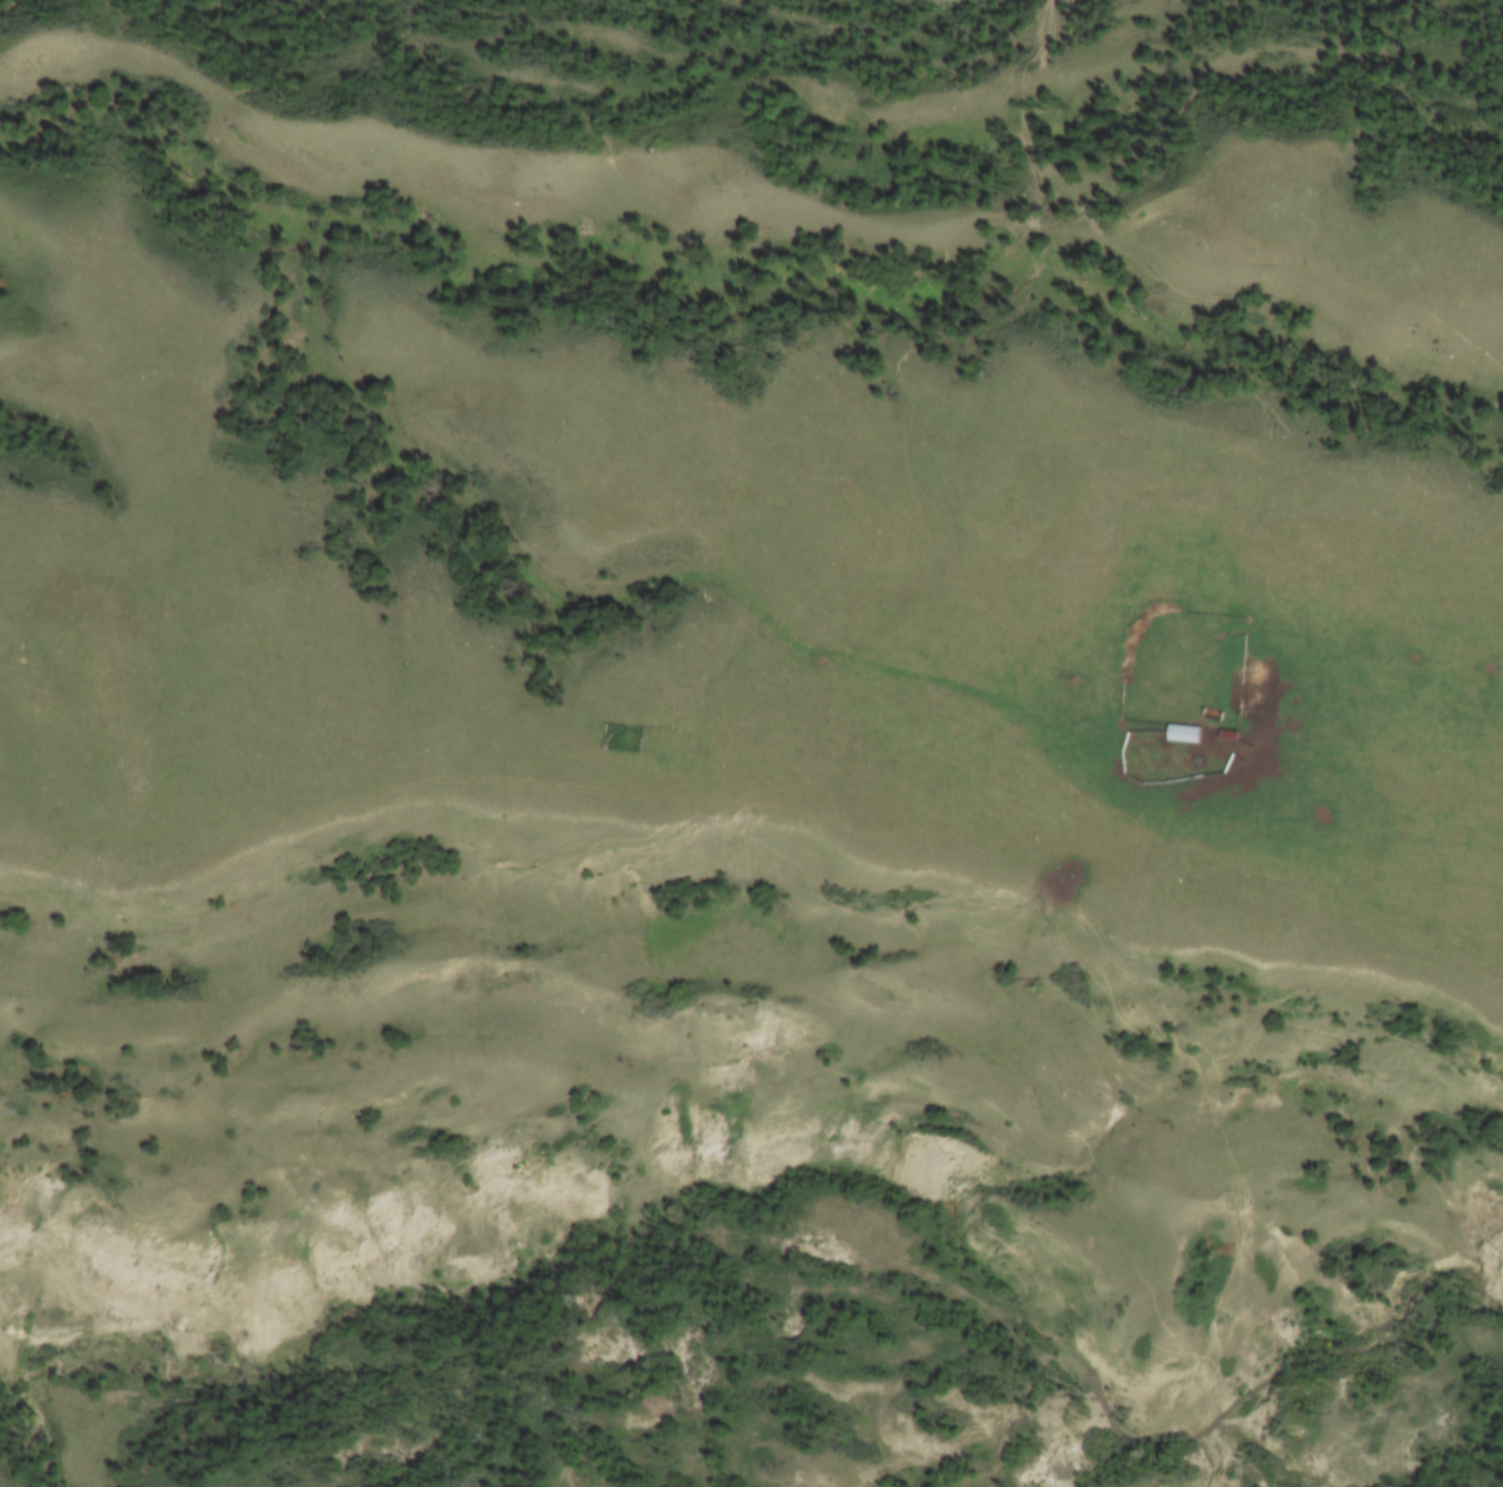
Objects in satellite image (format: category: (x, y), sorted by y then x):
building: (1183, 735)
road: (1400, 794)

